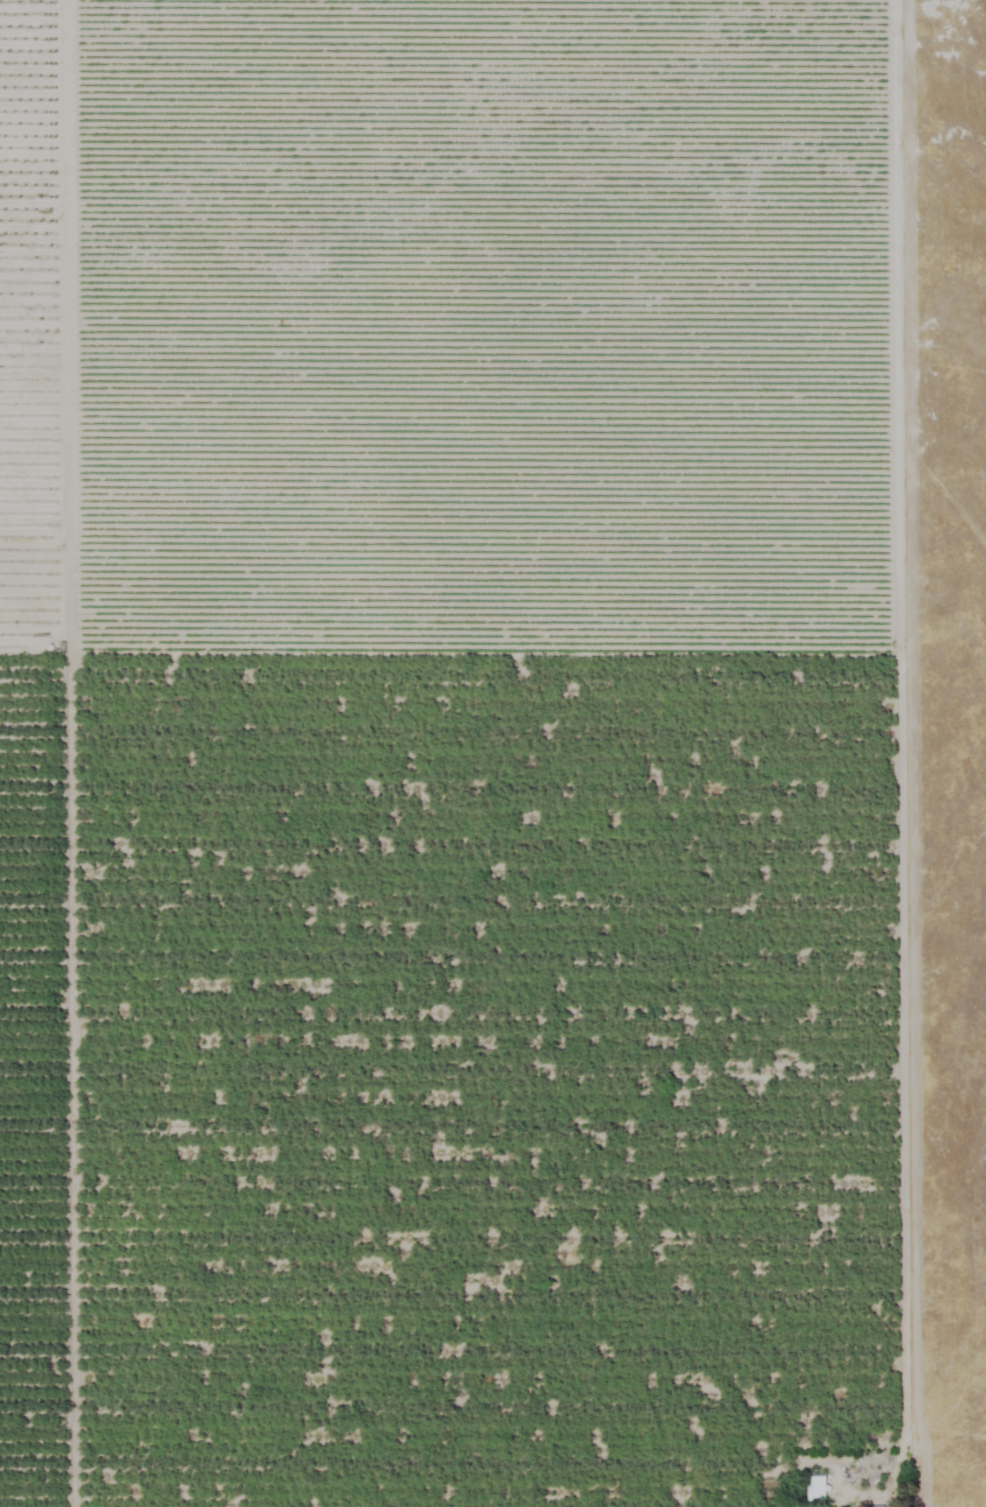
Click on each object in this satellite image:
road: (68, 753)
road: (900, 753)
crop: (459, 756)

